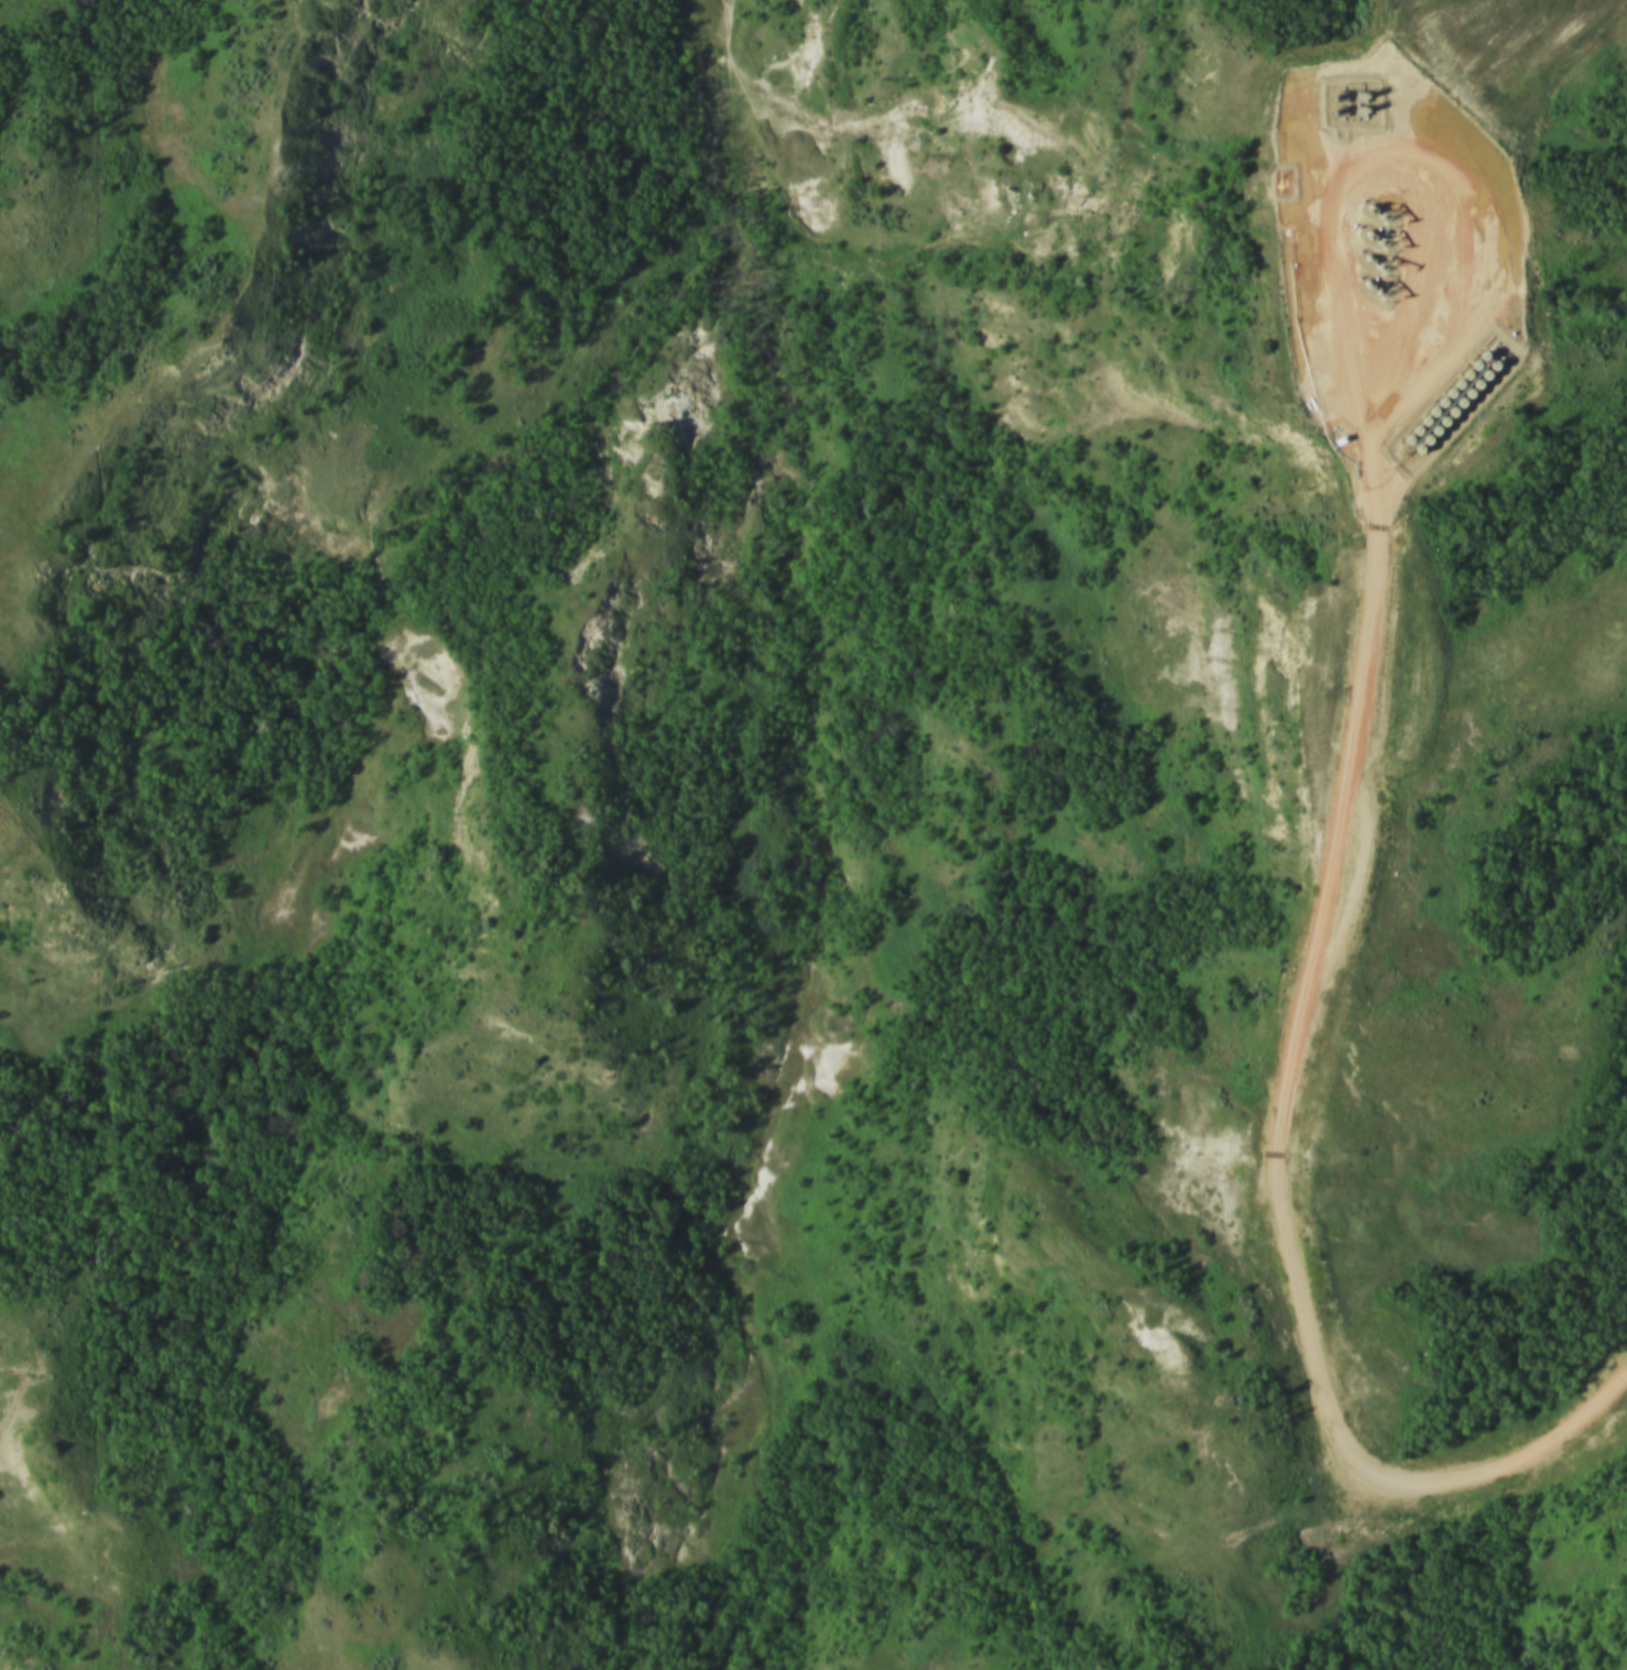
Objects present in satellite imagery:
petroleum well: (1373, 210)
petroleum well: (1368, 237)
petroleum well: (1371, 260)
petroleum well: (1369, 286)
building: (1479, 359)
storage tank: (1479, 359)
building: (1471, 369)
storage tank: (1471, 369)
building: (1489, 369)
storage tank: (1489, 369)
building: (1462, 378)
storage tank: (1462, 378)
building: (1482, 379)
storage tank: (1482, 379)
building: (1454, 386)
storage tank: (1454, 386)
building: (1473, 388)
storage tank: (1473, 388)
building: (1446, 396)
storage tank: (1446, 396)
building: (1465, 397)
storage tank: (1465, 397)
building: (1438, 405)
storage tank: (1438, 405)
building: (1456, 405)
storage tank: (1456, 405)
building: (1429, 414)
storage tank: (1429, 414)
building: (1448, 415)
storage tank: (1448, 415)
building: (1421, 423)
storage tank: (1421, 423)
building: (1440, 424)
storage tank: (1440, 424)
building: (1412, 433)
storage tank: (1412, 433)
building: (1430, 433)
storage tank: (1430, 433)
building: (1404, 440)
storage tank: (1404, 440)
building: (1423, 441)
storage tank: (1423, 441)
building: (1415, 450)
storage tank: (1415, 450)

